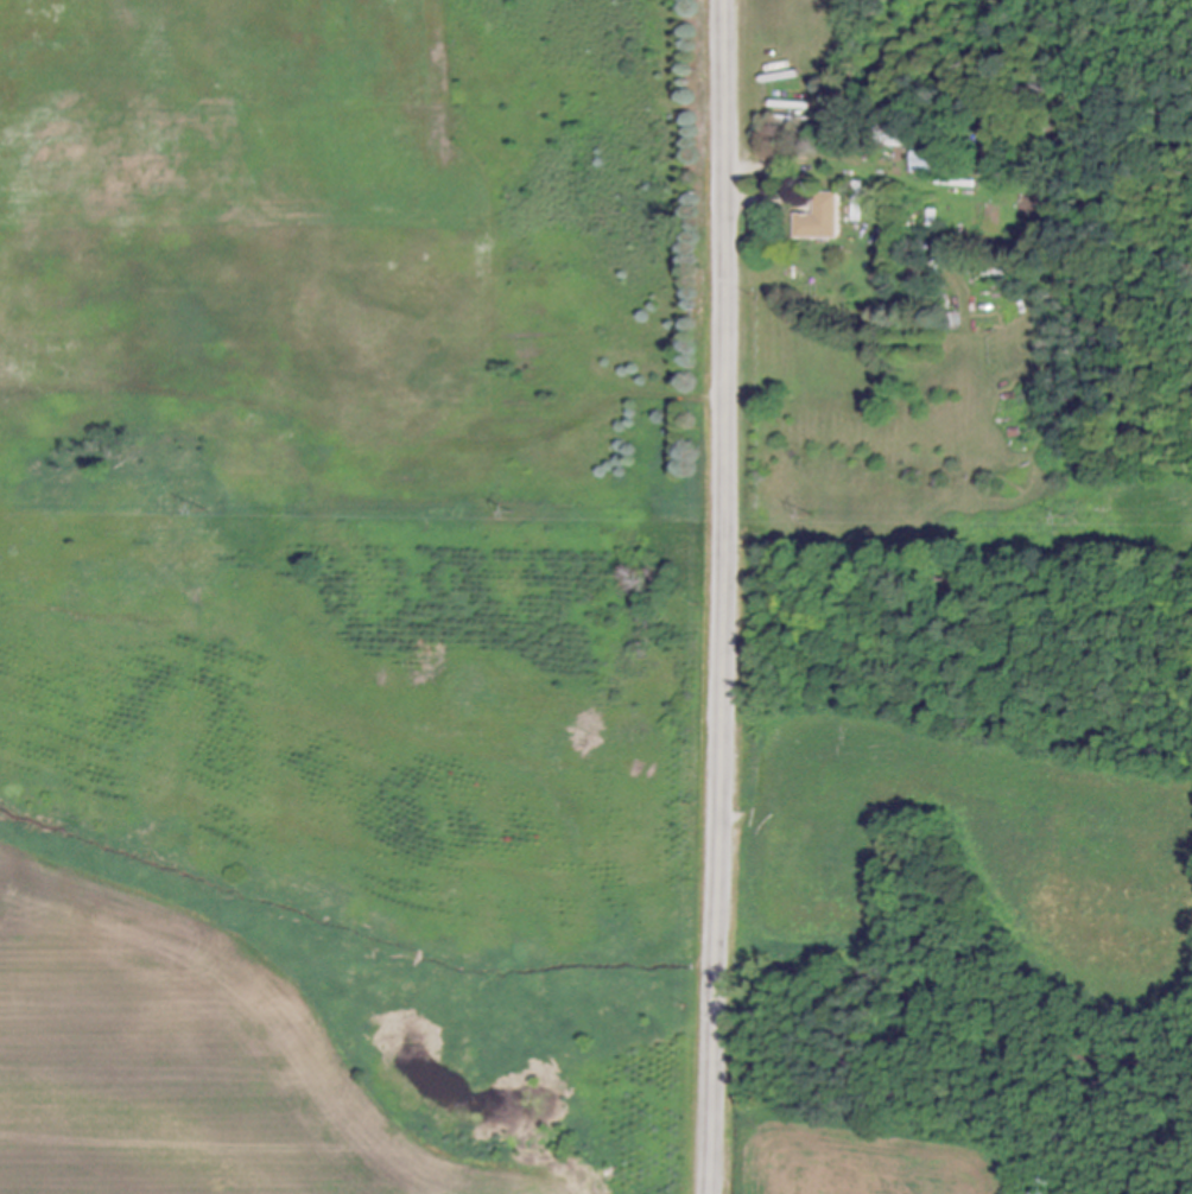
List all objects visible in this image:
building: (931, 161)
road: (748, 199)
building: (823, 221)
road: (727, 597)

